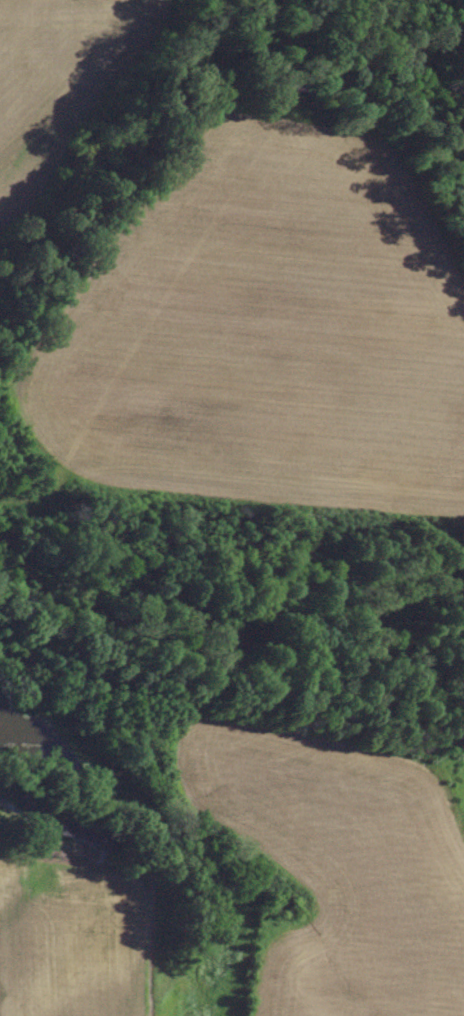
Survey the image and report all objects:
building: (81, 831)

